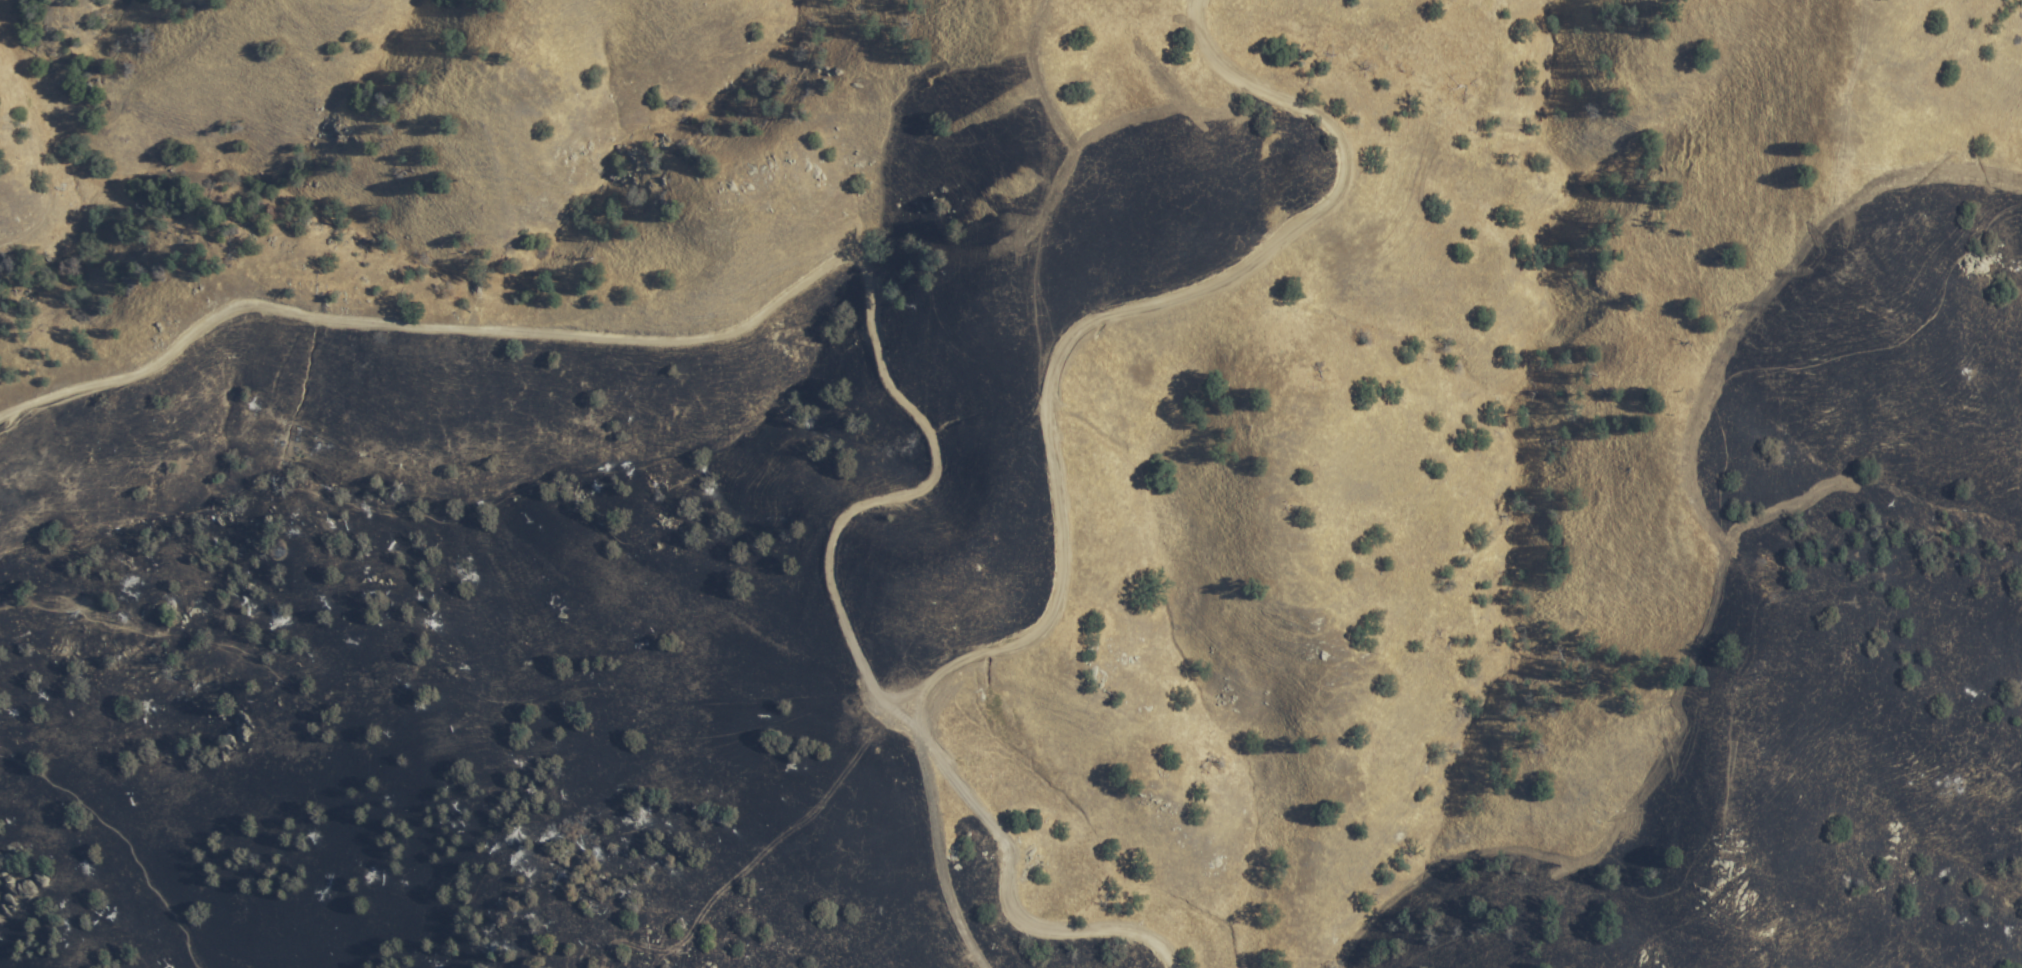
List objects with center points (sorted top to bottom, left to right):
road: (834, 502)
road: (1007, 828)
road: (939, 861)

